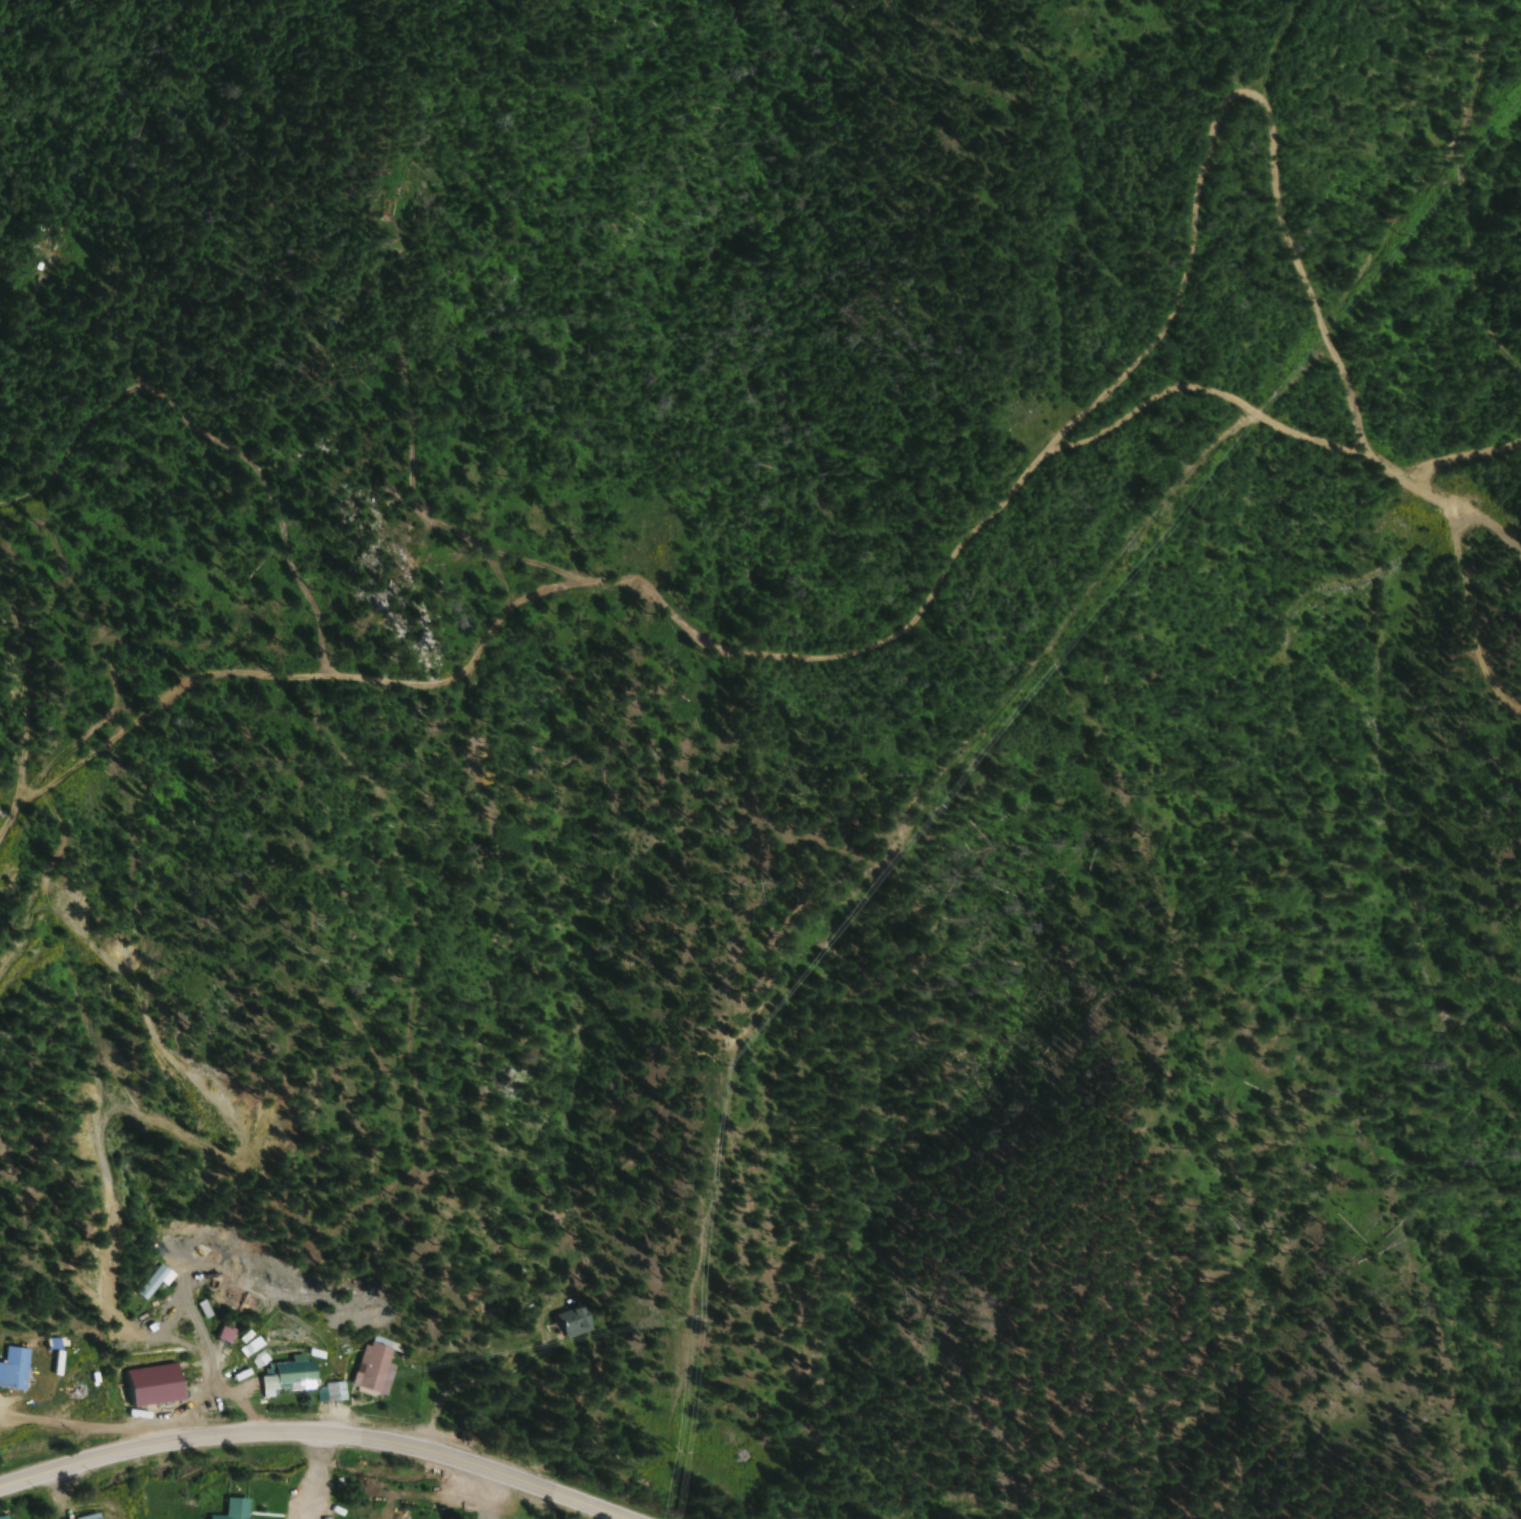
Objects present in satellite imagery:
building: (157, 1281)
building: (576, 1322)
building: (161, 1335)
building: (375, 1367)
building: (16, 1369)
building: (290, 1377)
building: (156, 1385)
building: (335, 1392)
road: (309, 1437)
building: (235, 1509)
building: (119, 1514)
building: (5, 1517)
building: (95, 1517)

